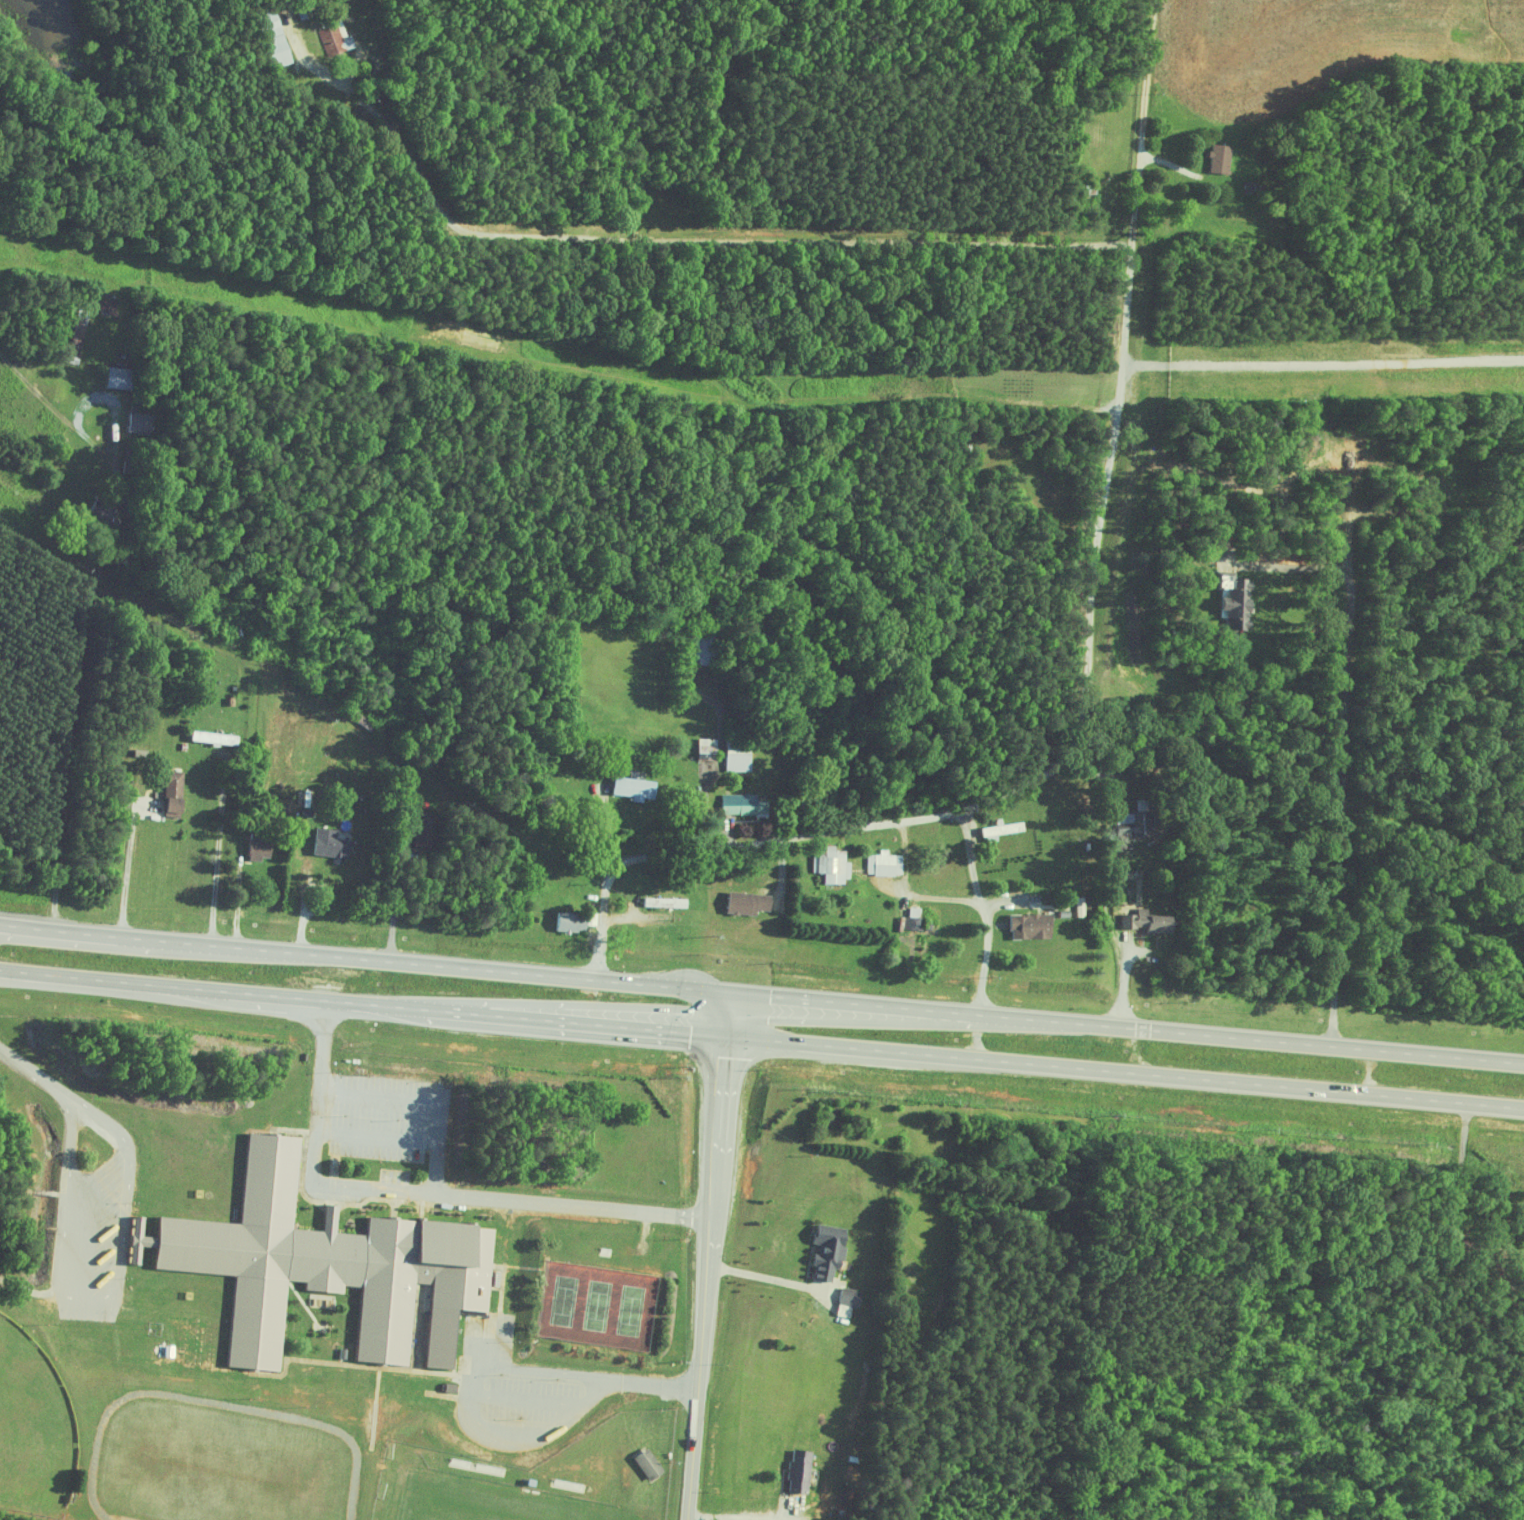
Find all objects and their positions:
building: (337, 39)
building: (1214, 159)
road: (692, 238)
building: (111, 306)
building: (119, 377)
building: (141, 421)
building: (705, 645)
road: (1085, 669)
building: (218, 736)
road: (1342, 747)
building: (709, 748)
building: (637, 787)
building: (176, 791)
building: (745, 804)
building: (1146, 816)
building: (425, 829)
building: (1003, 829)
road: (1162, 833)
building: (334, 842)
building: (263, 845)
road: (217, 858)
building: (886, 863)
building: (833, 864)
road: (909, 893)
building: (667, 901)
building: (751, 902)
road: (396, 904)
road: (985, 909)
building: (916, 918)
building: (1152, 920)
building: (573, 921)
building: (1033, 924)
road: (125, 949)
road: (369, 958)
traffic signals: (773, 996)
road: (1131, 1025)
road: (323, 1027)
traffic signals: (693, 1034)
road: (761, 1039)
traffic signals: (733, 1045)
road: (33, 1070)
road: (441, 1123)
road: (435, 1168)
road: (105, 1180)
road: (449, 1194)
building: (832, 1253)
road: (710, 1256)
building: (331, 1264)
road: (765, 1277)
building: (852, 1296)
park: (597, 1304)
road: (572, 1374)
road: (645, 1383)
road: (593, 1393)
road: (530, 1399)
road: (479, 1419)
park: (33, 1430)
building: (652, 1464)
building: (802, 1470)
road: (792, 1513)
road: (720, 1518)

